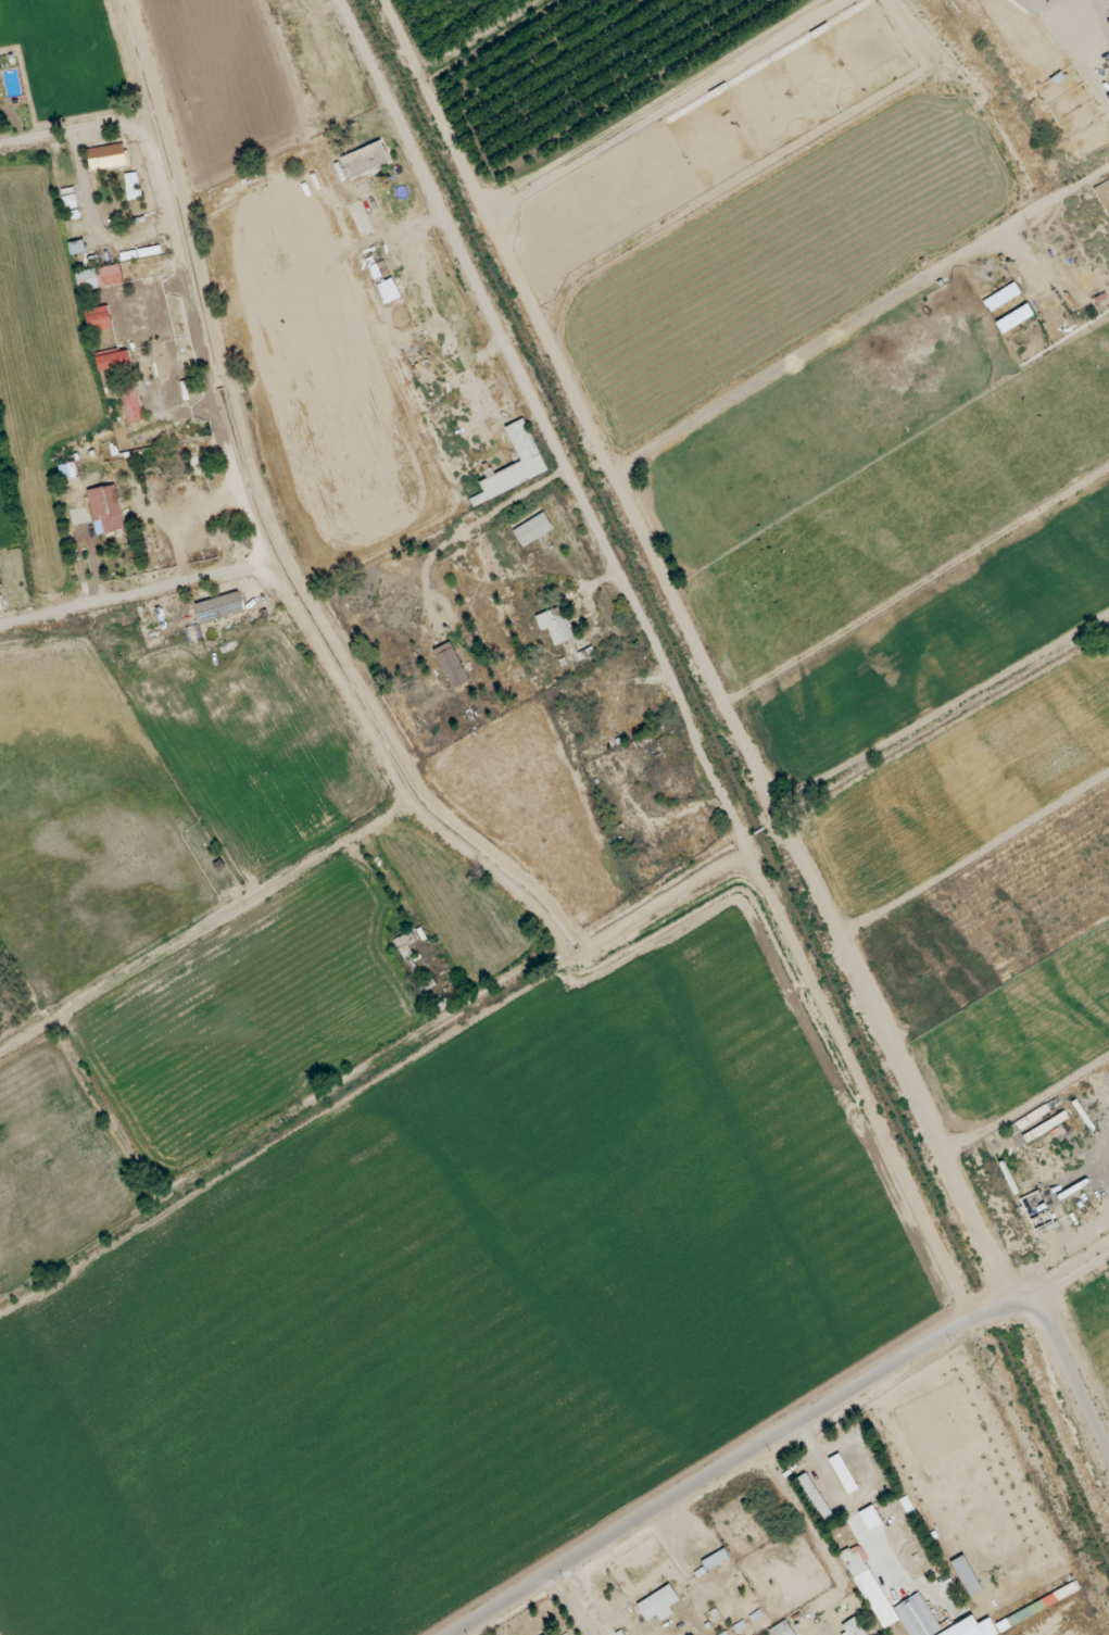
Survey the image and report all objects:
building: (105, 158)
building: (364, 160)
road: (192, 259)
building: (387, 291)
building: (97, 295)
building: (1000, 298)
building: (1013, 319)
building: (112, 361)
building: (130, 403)
building: (524, 445)
building: (104, 510)
building: (532, 530)
road: (140, 593)
building: (218, 608)
building: (554, 626)
road: (692, 654)
road: (659, 658)
building: (450, 666)
road: (474, 846)
road: (1023, 1106)
road: (1057, 1414)
road: (780, 1434)
building: (842, 1474)
building: (814, 1497)
building: (869, 1518)
building: (966, 1576)
building: (657, 1605)
building: (915, 1607)
building: (852, 1628)
building: (781, 1630)

